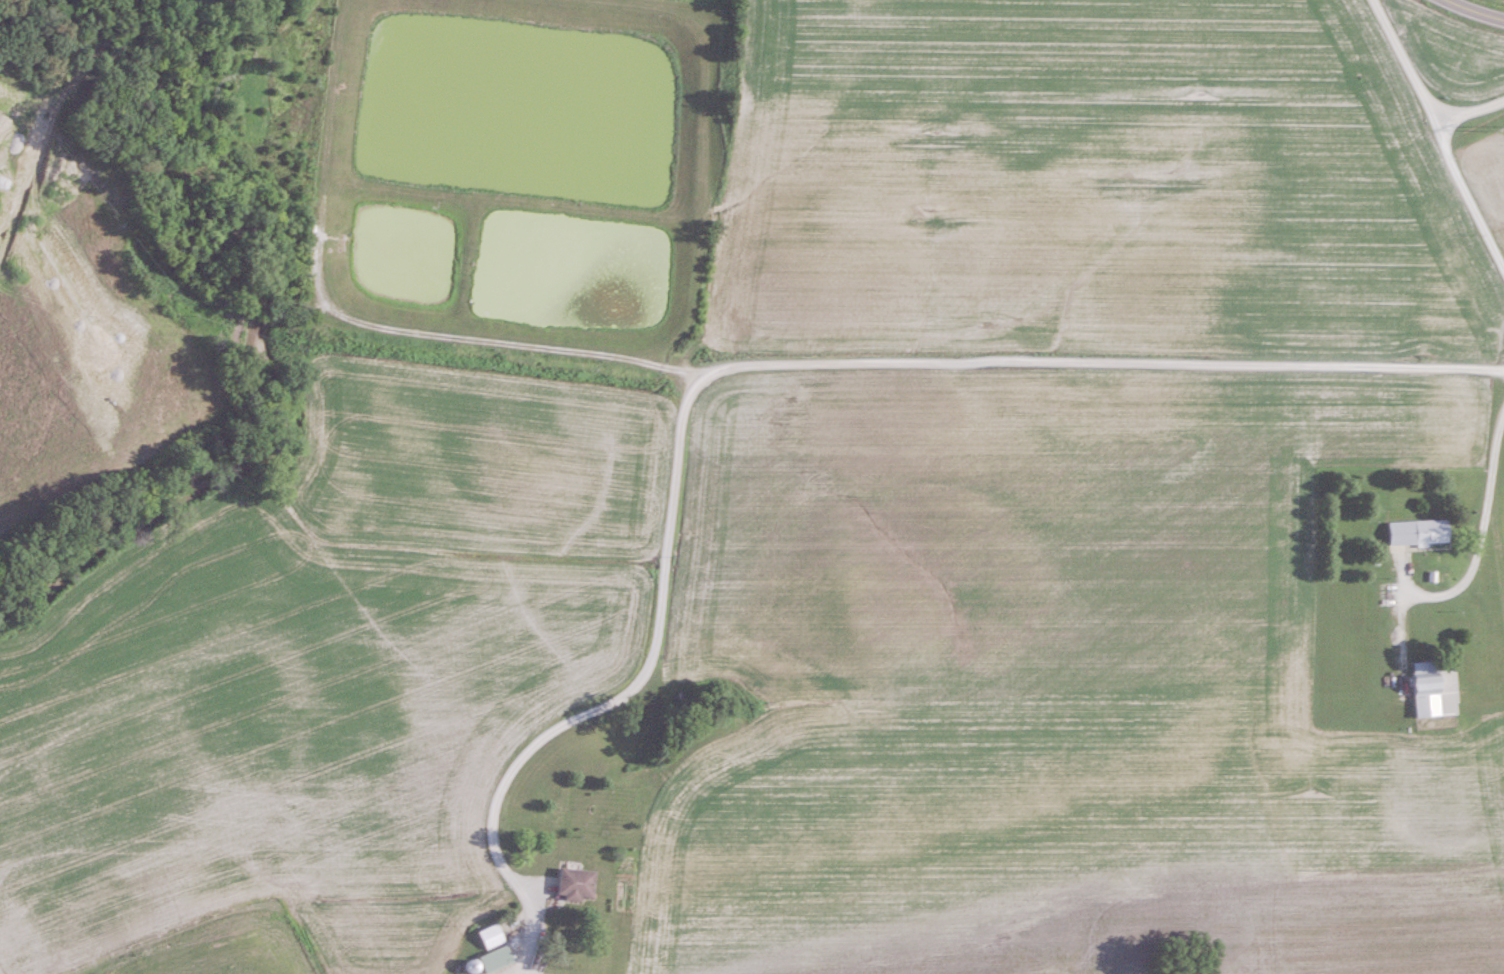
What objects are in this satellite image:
road: (1474, 11)
road: (1399, 60)
road: (1471, 110)
road: (1466, 192)
road: (793, 369)
road: (1482, 529)
building: (1417, 533)
building: (1432, 690)
building: (576, 884)
road: (535, 932)
building: (492, 936)
building: (496, 958)

